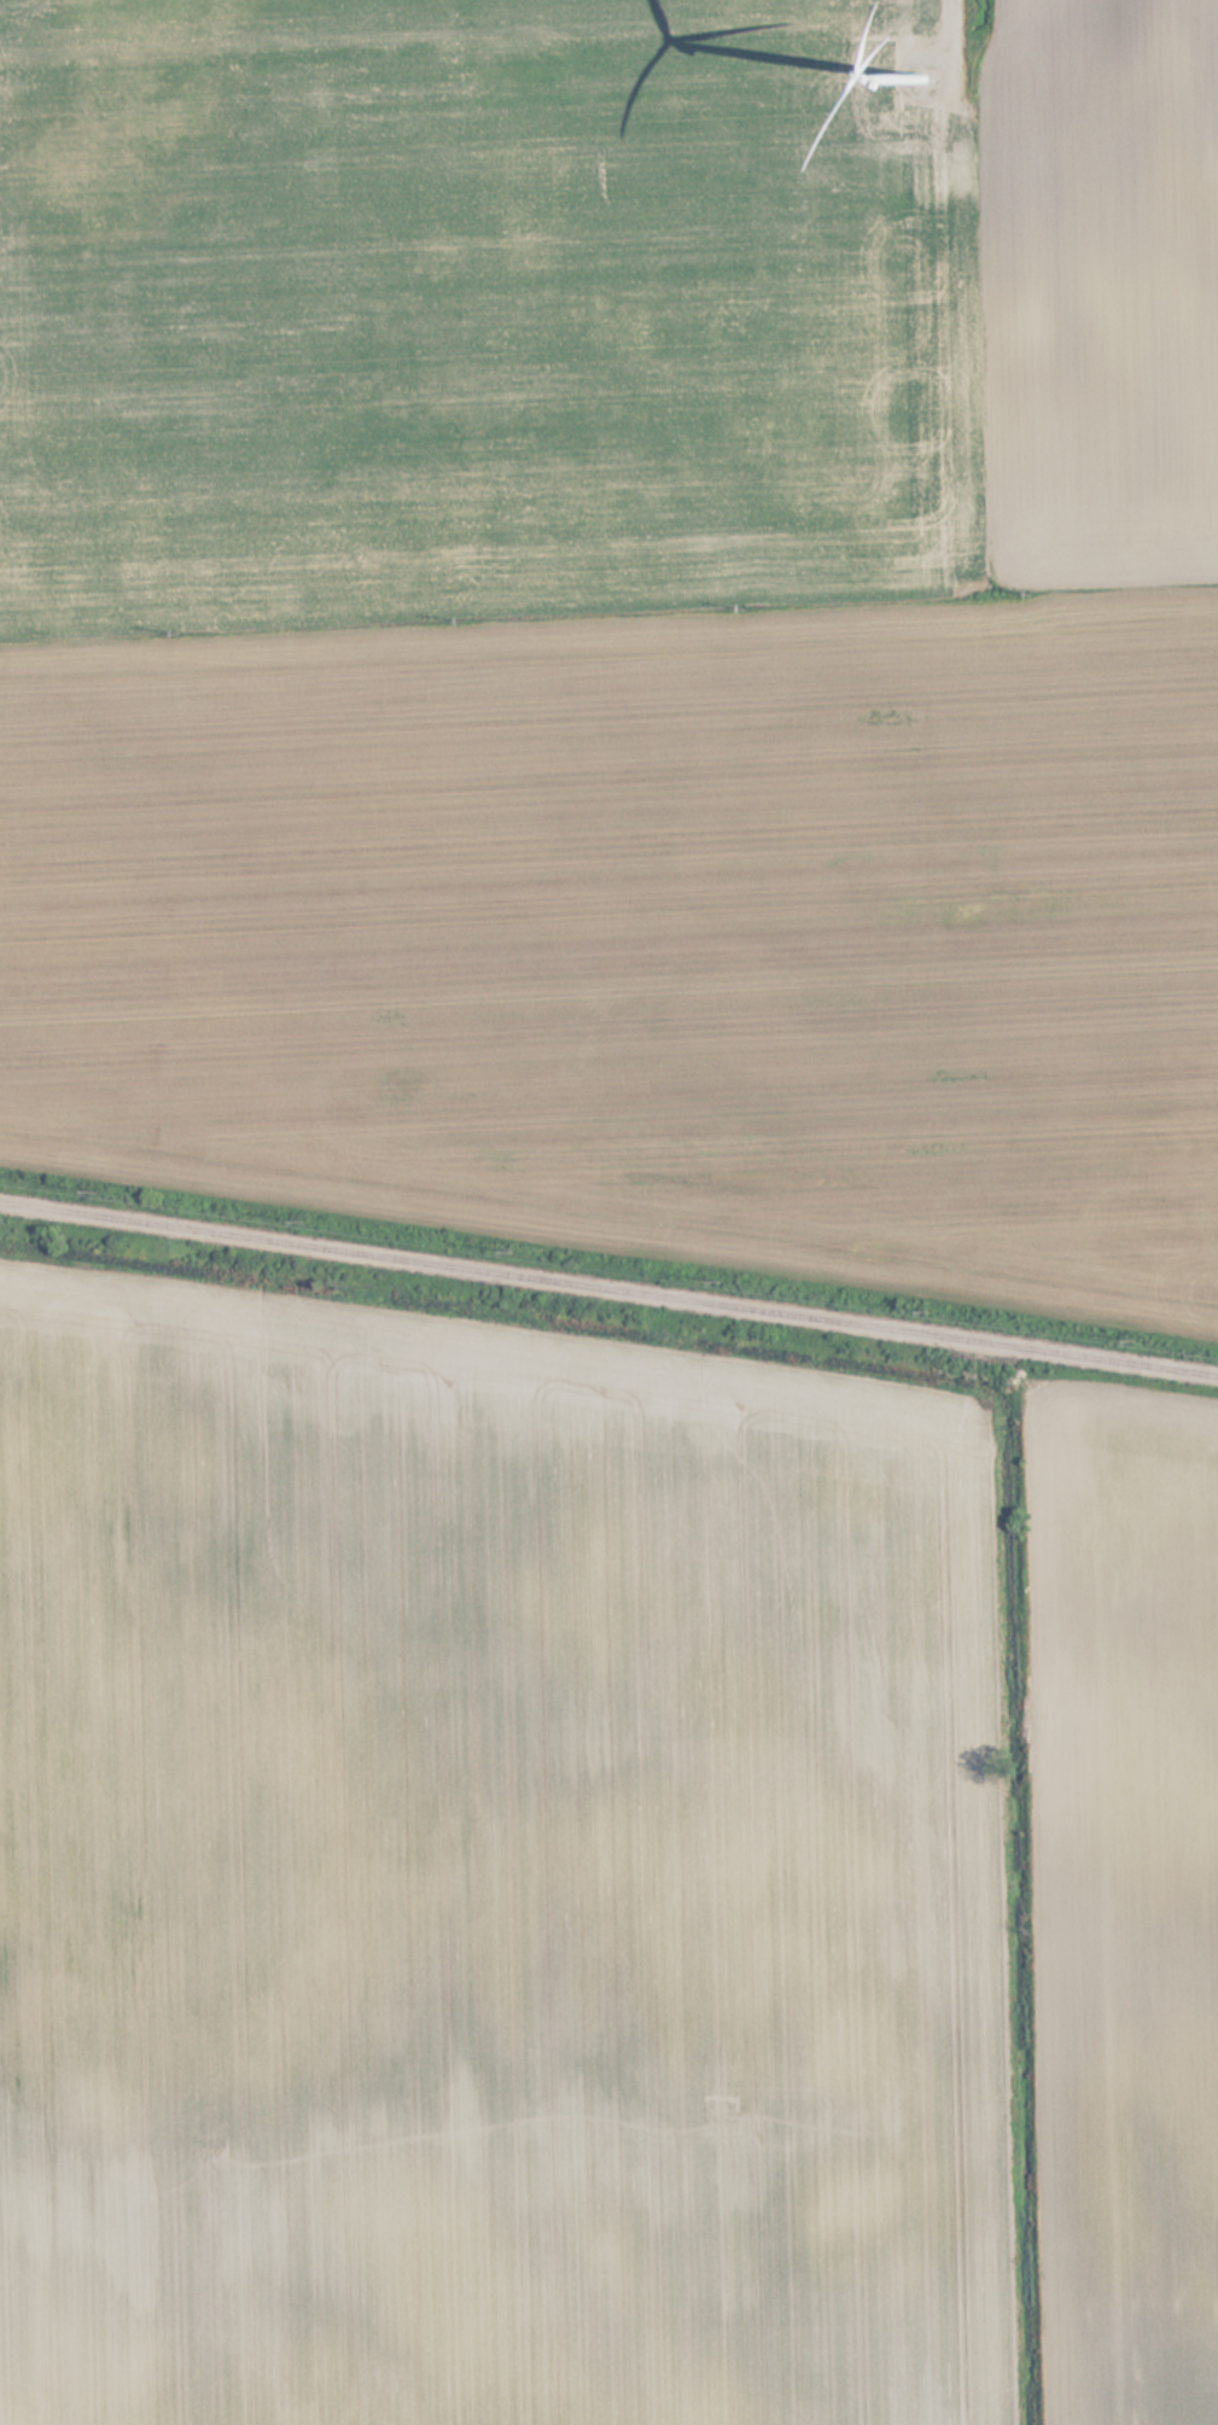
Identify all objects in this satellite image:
road: (954, 34)
wind turbine: (919, 75)
railway: (608, 1290)

